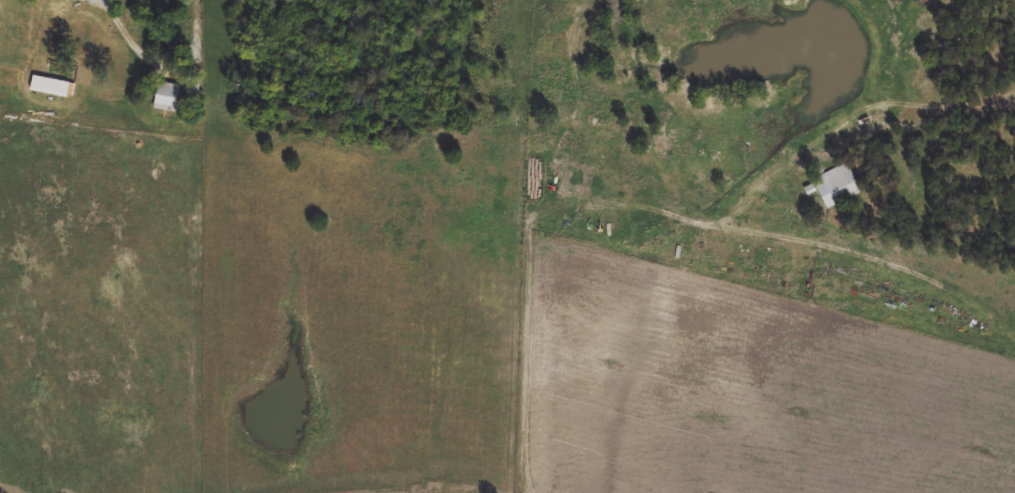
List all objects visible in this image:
road: (171, 70)
building: (50, 87)
building: (194, 89)
building: (167, 98)
building: (839, 186)

